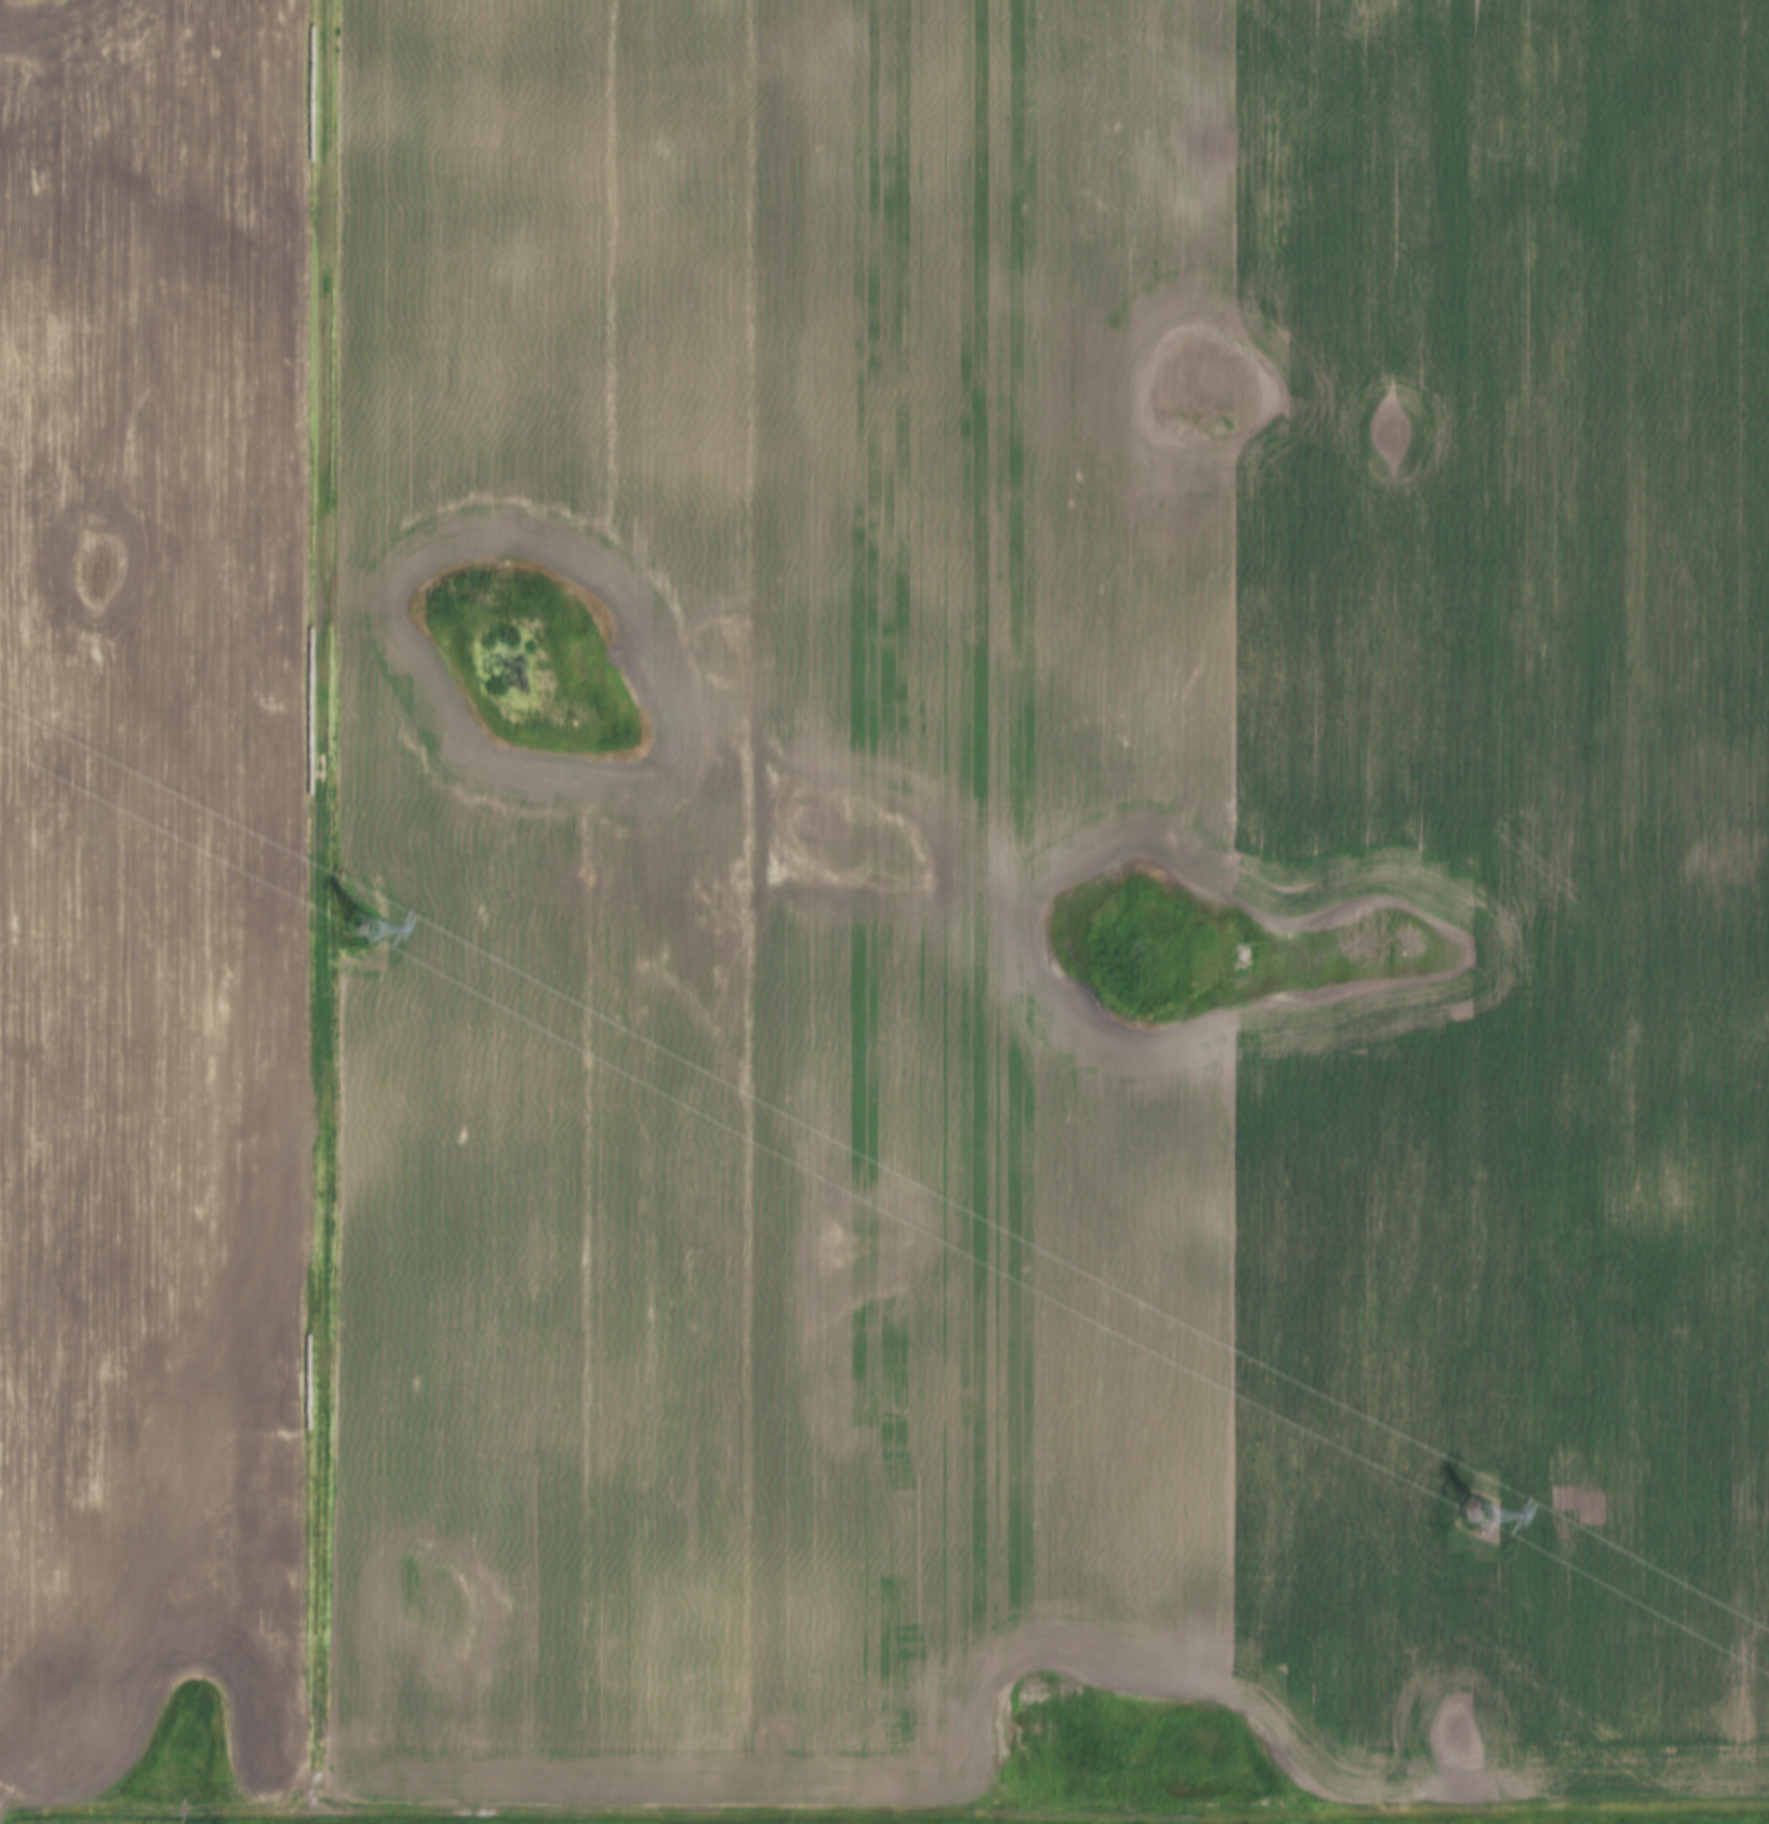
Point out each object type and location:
power tower: (364, 927)
power tower: (1479, 1512)

